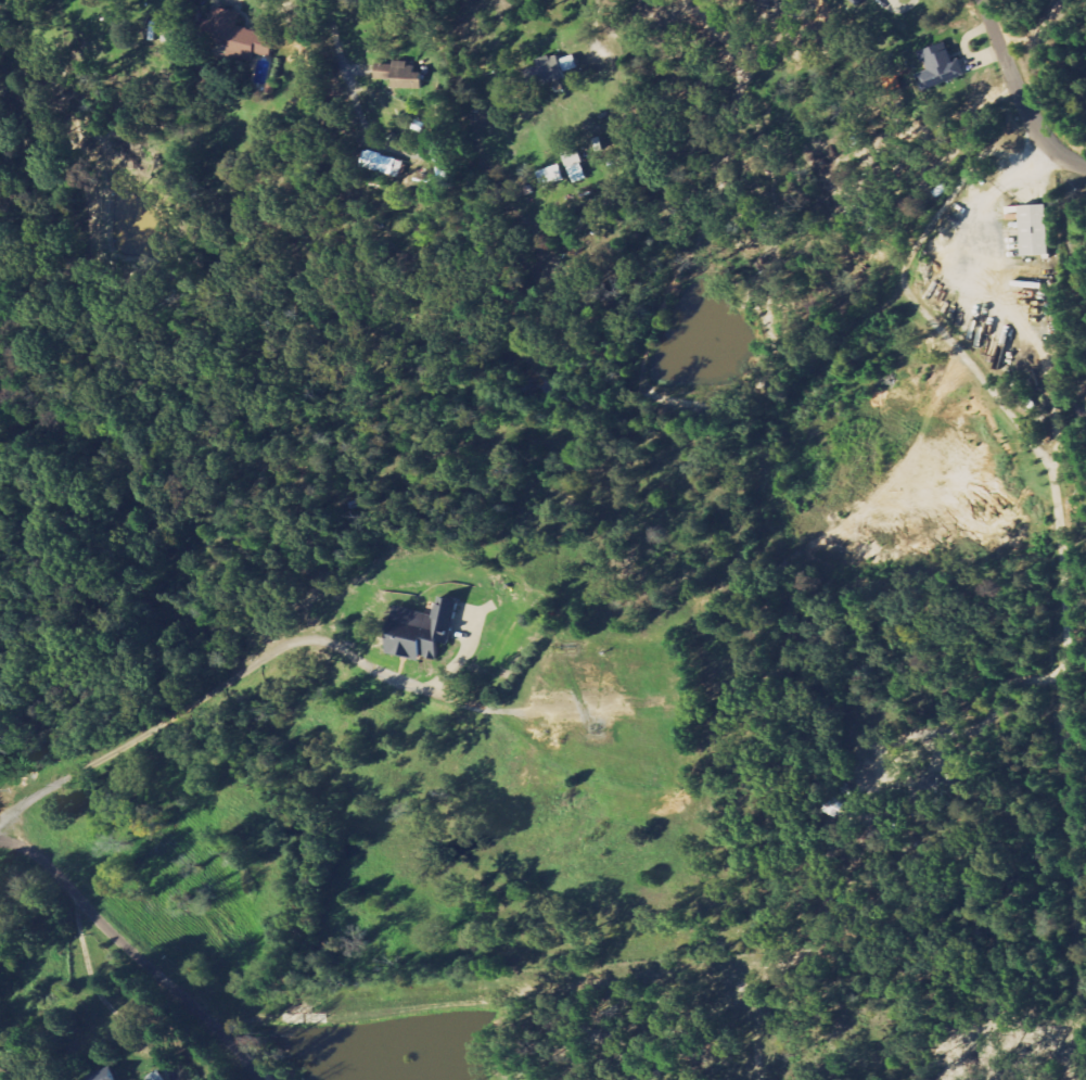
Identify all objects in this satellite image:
building: (235, 35)
road: (338, 45)
building: (937, 67)
building: (550, 71)
building: (399, 76)
road: (1020, 92)
building: (383, 164)
building: (575, 167)
road: (1071, 221)
building: (1033, 231)
building: (427, 632)
road: (140, 733)
building: (953, 786)
road: (133, 954)
building: (110, 1077)

